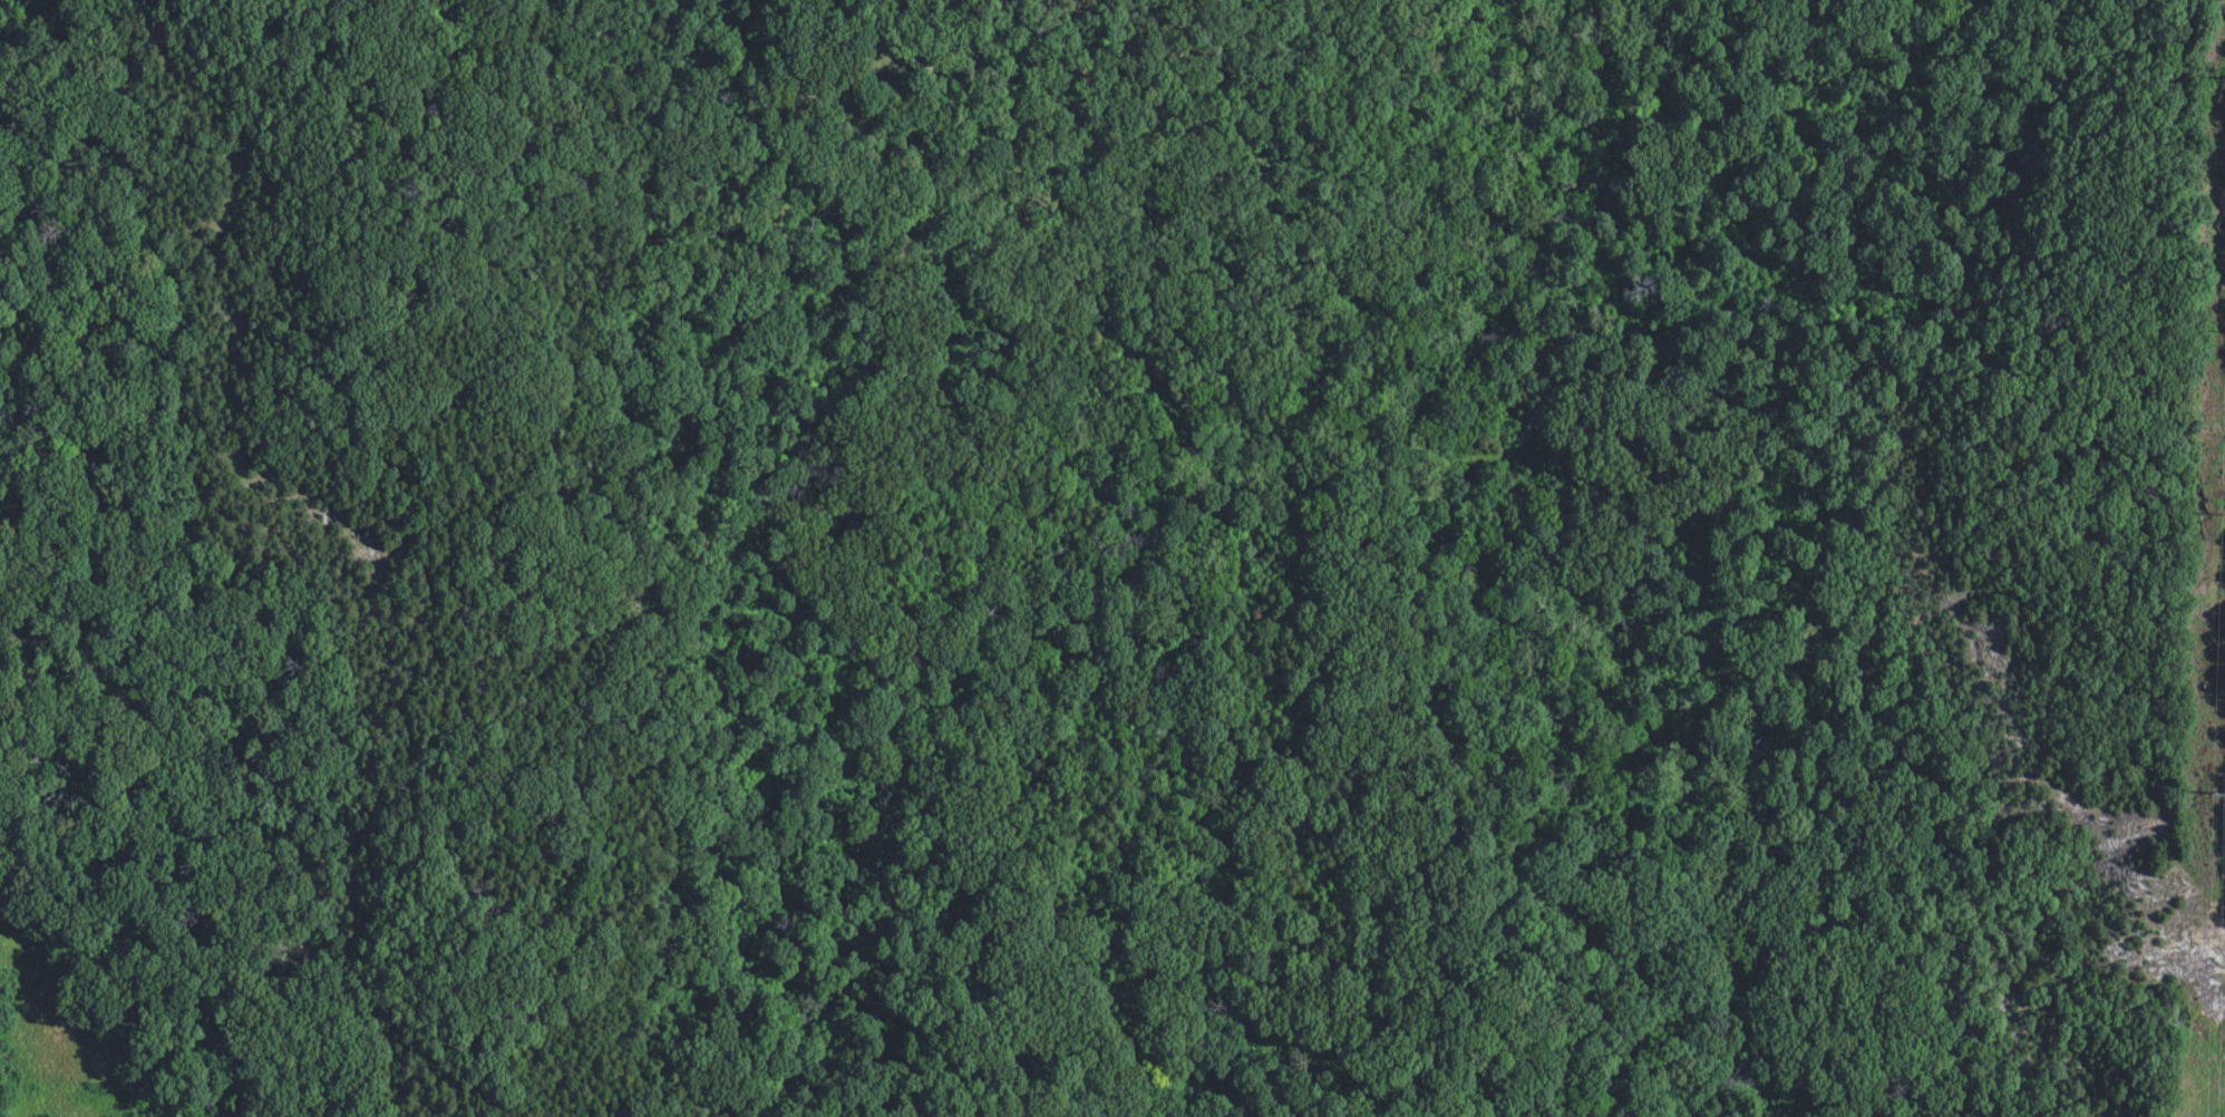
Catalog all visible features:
power tower: (2224, 331)
power tower: (2214, 791)

